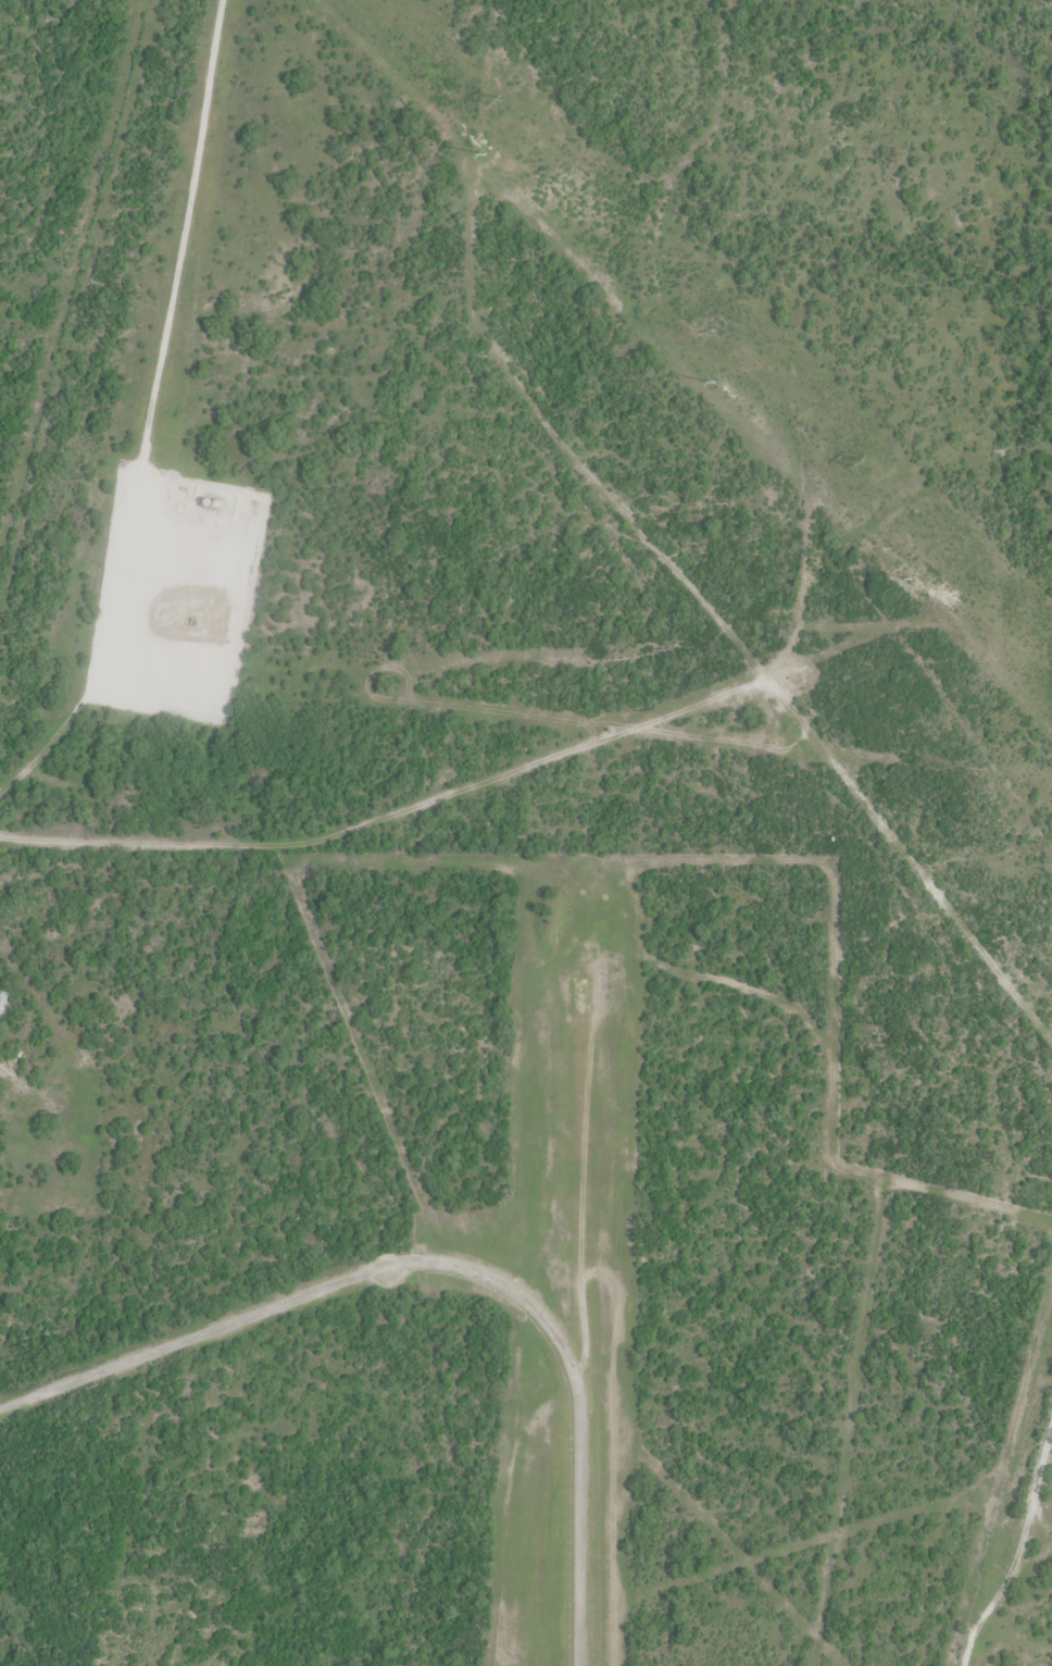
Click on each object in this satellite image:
power tower: (501, 102)
power tower: (484, 153)
power tower: (712, 385)
power tower: (862, 463)
power tower: (890, 561)
building: (3, 999)
road: (442, 1266)

